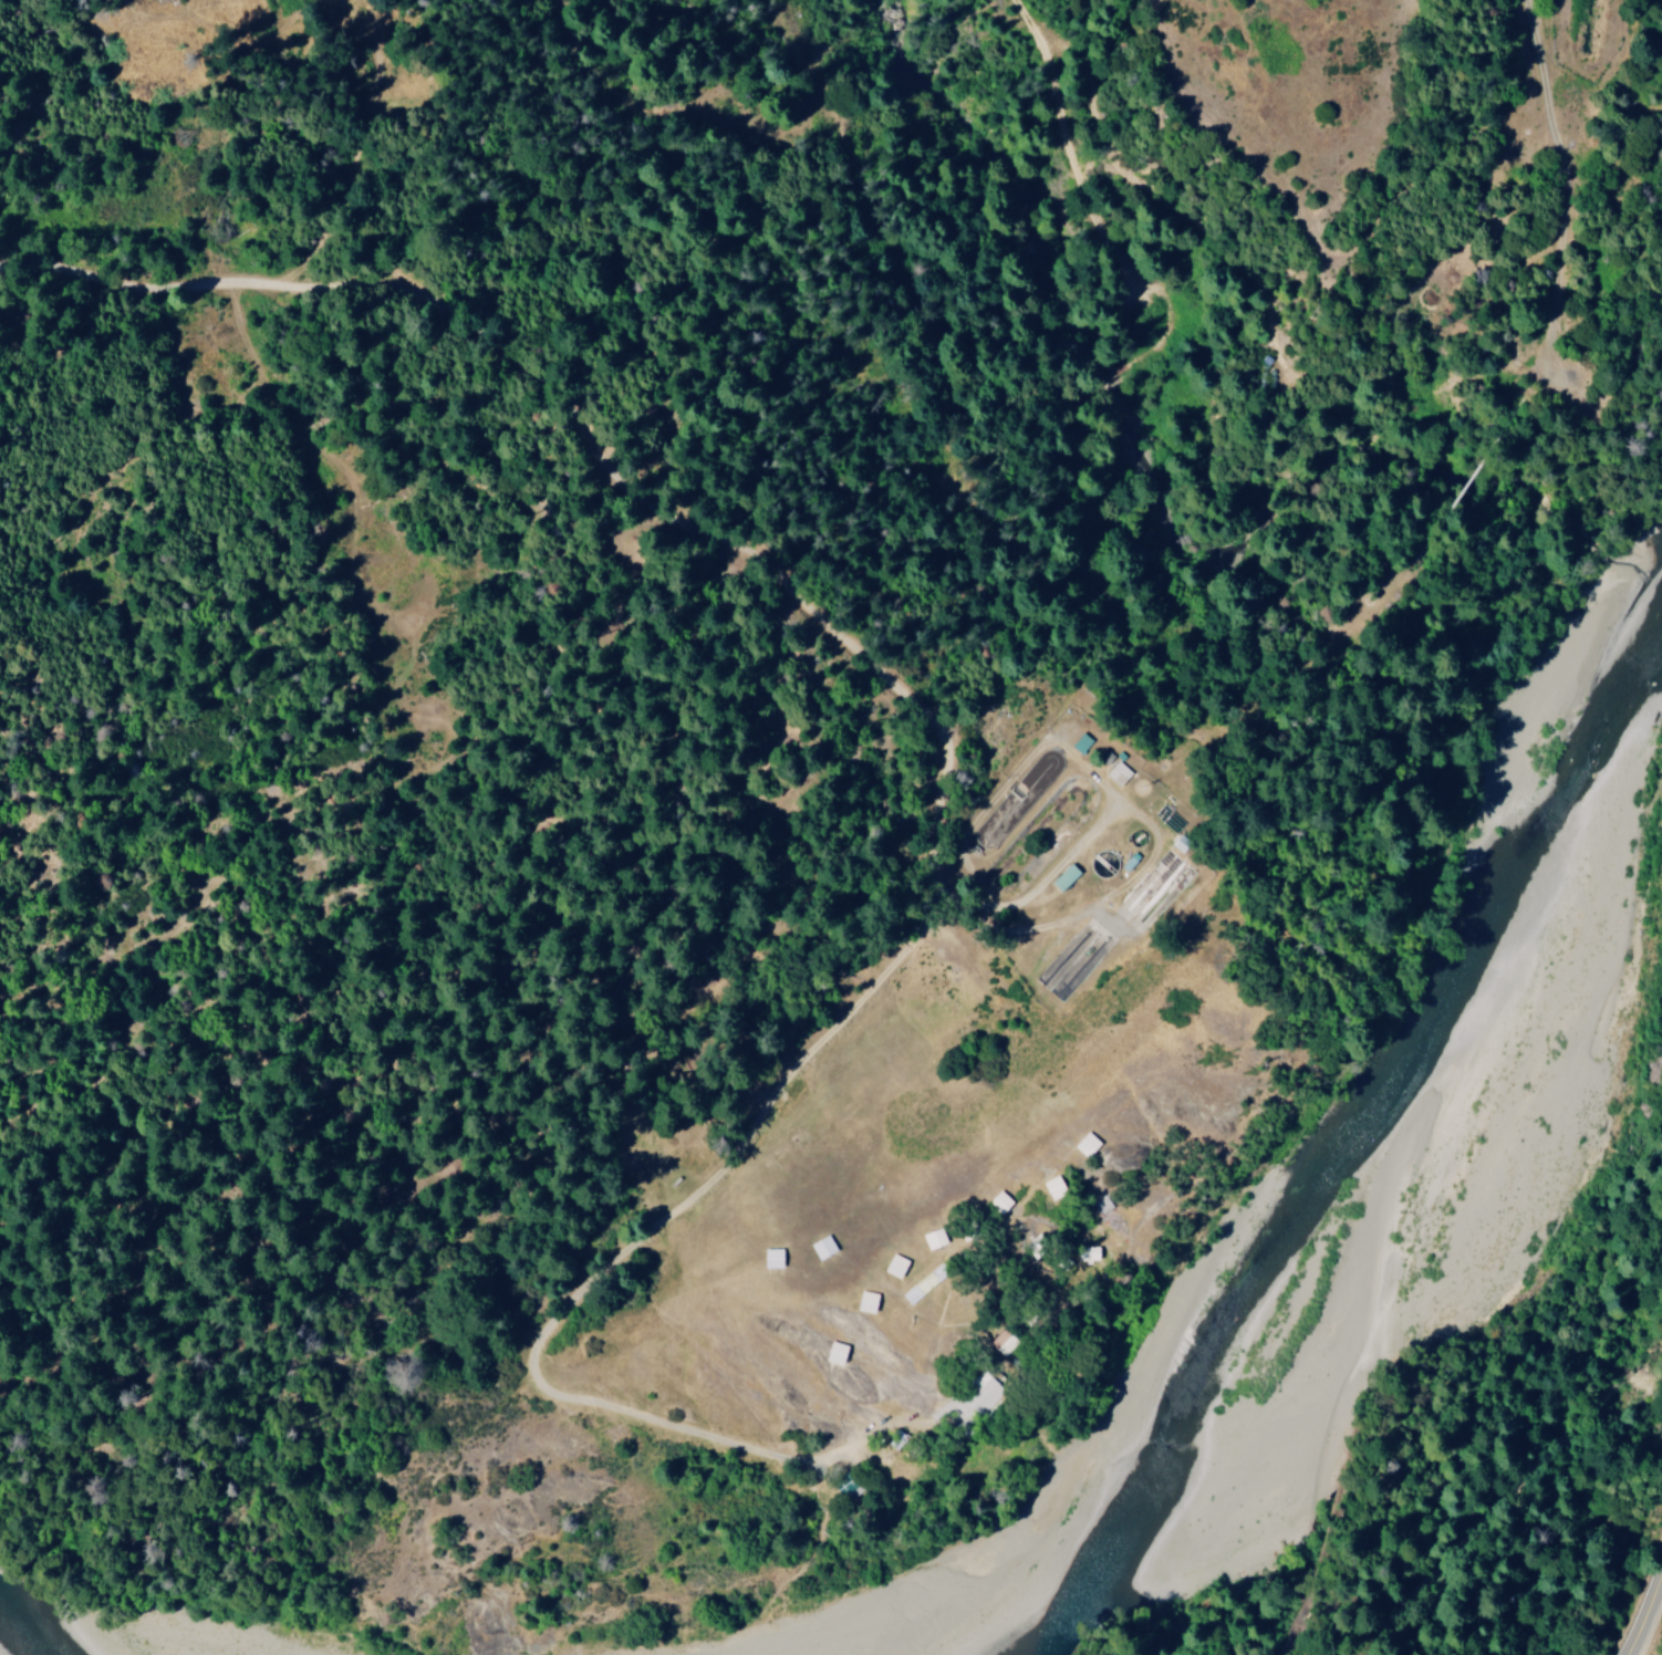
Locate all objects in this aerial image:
river: (1581, 632)
building: (1084, 742)
building: (1120, 773)
road: (944, 804)
building: (1069, 876)
building: (1154, 877)
building: (937, 1238)
building: (827, 1247)
river: (1400, 1252)
building: (777, 1258)
building: (898, 1266)
building: (927, 1282)
building: (871, 1301)
building: (840, 1352)
building: (983, 1394)
road: (1650, 1621)
river: (43, 1630)

